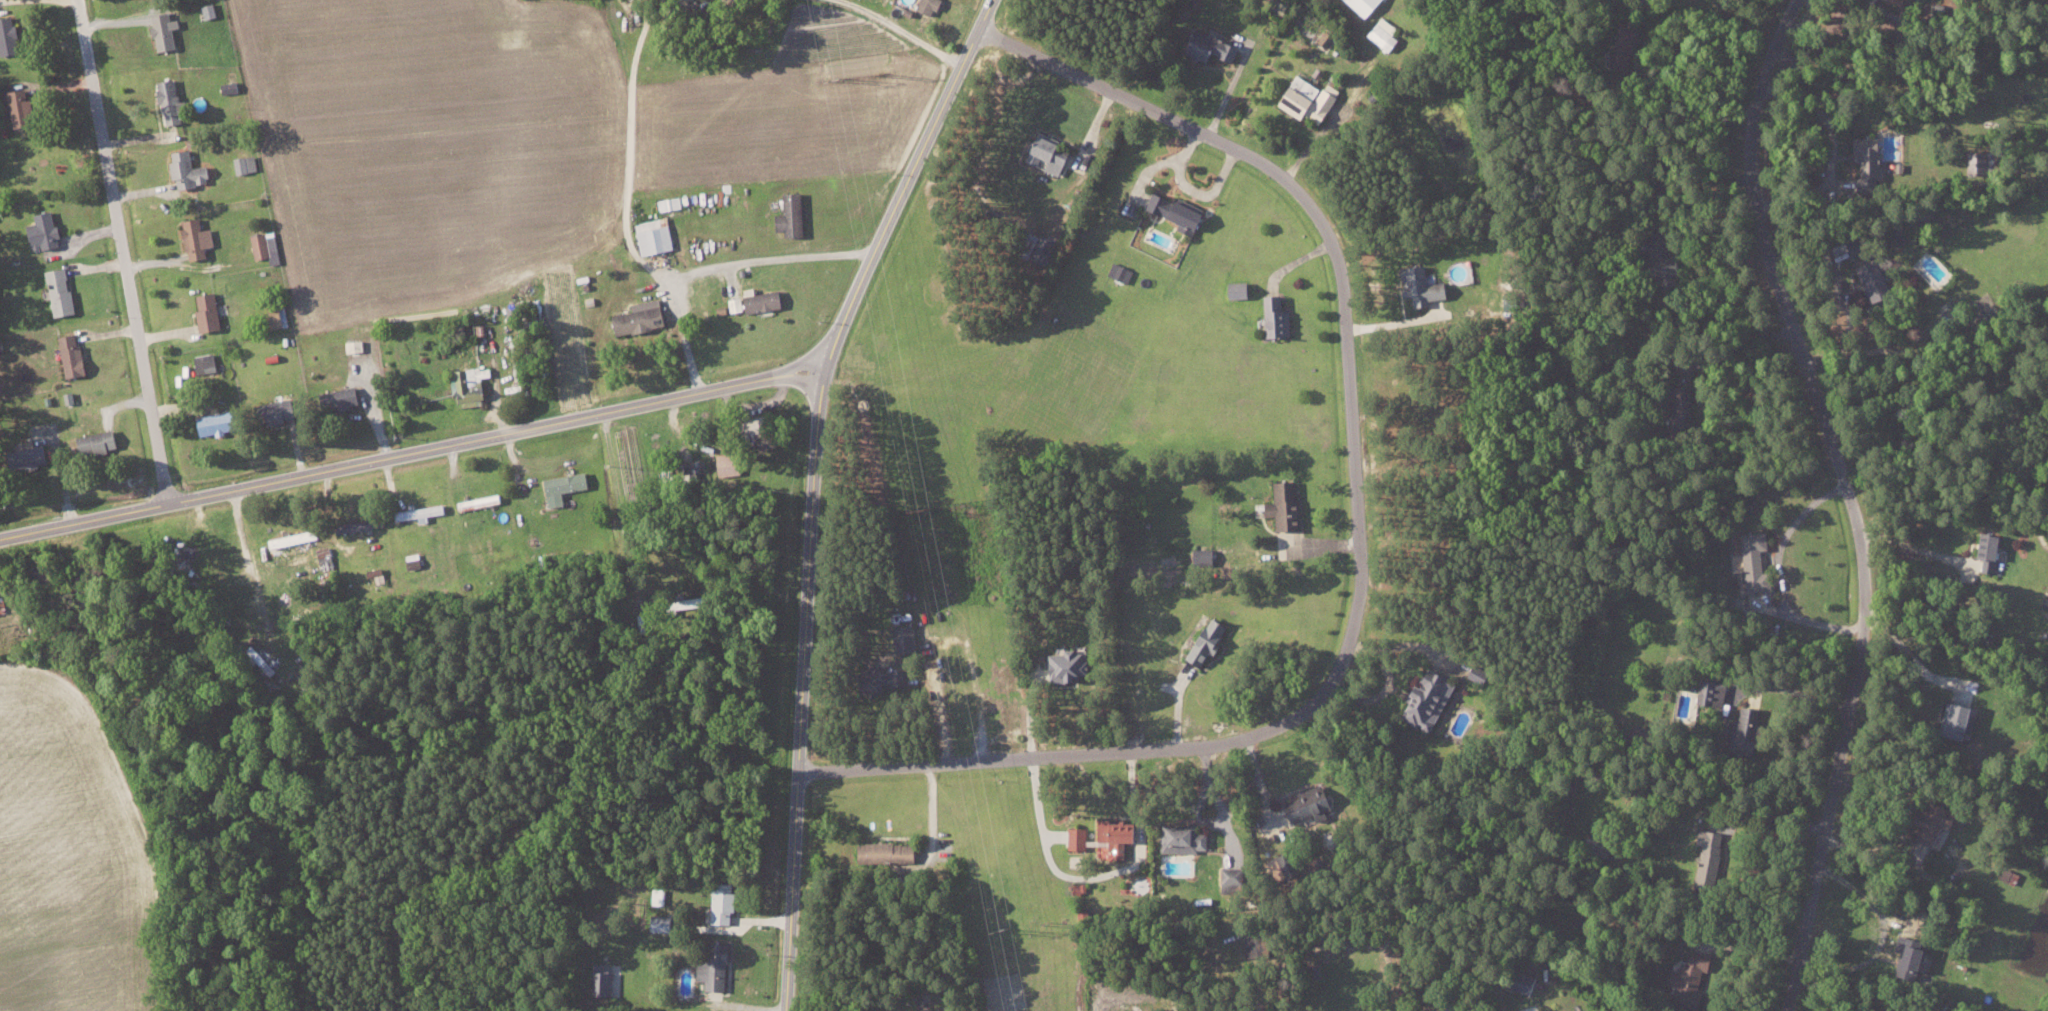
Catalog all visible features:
building: (930, 5)
building: (167, 30)
road: (906, 31)
building: (10, 35)
building: (1384, 37)
building: (1624, 44)
building: (1212, 45)
power tower: (882, 74)
power tower: (841, 79)
building: (231, 83)
building: (1311, 98)
building: (174, 101)
building: (23, 107)
road: (925, 142)
road: (629, 146)
building: (1056, 154)
building: (1971, 162)
building: (247, 163)
building: (191, 169)
building: (671, 202)
building: (1180, 210)
building: (793, 214)
building: (47, 230)
building: (655, 236)
building: (199, 238)
building: (268, 246)
road: (124, 249)
building: (1661, 261)
road: (715, 268)
building: (1122, 271)
building: (1868, 278)
building: (1423, 286)
building: (1241, 289)
building: (63, 291)
building: (756, 301)
building: (211, 312)
building: (279, 315)
building: (643, 316)
building: (1279, 317)
building: (356, 345)
building: (75, 354)
building: (207, 363)
building: (472, 384)
building: (344, 398)
building: (1676, 405)
building: (284, 409)
building: (221, 422)
building: (101, 441)
road: (413, 449)
building: (31, 457)
building: (730, 463)
building: (567, 485)
road: (1854, 498)
building: (480, 501)
power tower: (966, 503)
building: (1288, 505)
power tower: (930, 509)
building: (421, 512)
building: (365, 523)
road: (1357, 529)
building: (295, 538)
building: (478, 551)
building: (1984, 552)
building: (1208, 556)
building: (327, 560)
building: (1749, 560)
road: (1780, 567)
building: (2, 603)
building: (680, 603)
building: (906, 638)
building: (1211, 640)
road: (804, 643)
building: (1070, 665)
building: (892, 679)
building: (1708, 694)
building: (1433, 699)
building: (1953, 720)
building: (1740, 726)
building: (1314, 804)
building: (1928, 820)
building: (1121, 835)
building: (1080, 838)
building: (1186, 839)
building: (1704, 850)
building: (890, 852)
building: (1235, 880)
building: (659, 896)
building: (725, 903)
power tower: (1046, 921)
building: (664, 923)
power tower: (1008, 926)
building: (1259, 946)
building: (1902, 955)
building: (717, 967)
building: (1683, 977)
building: (603, 978)
building: (1517, 980)

